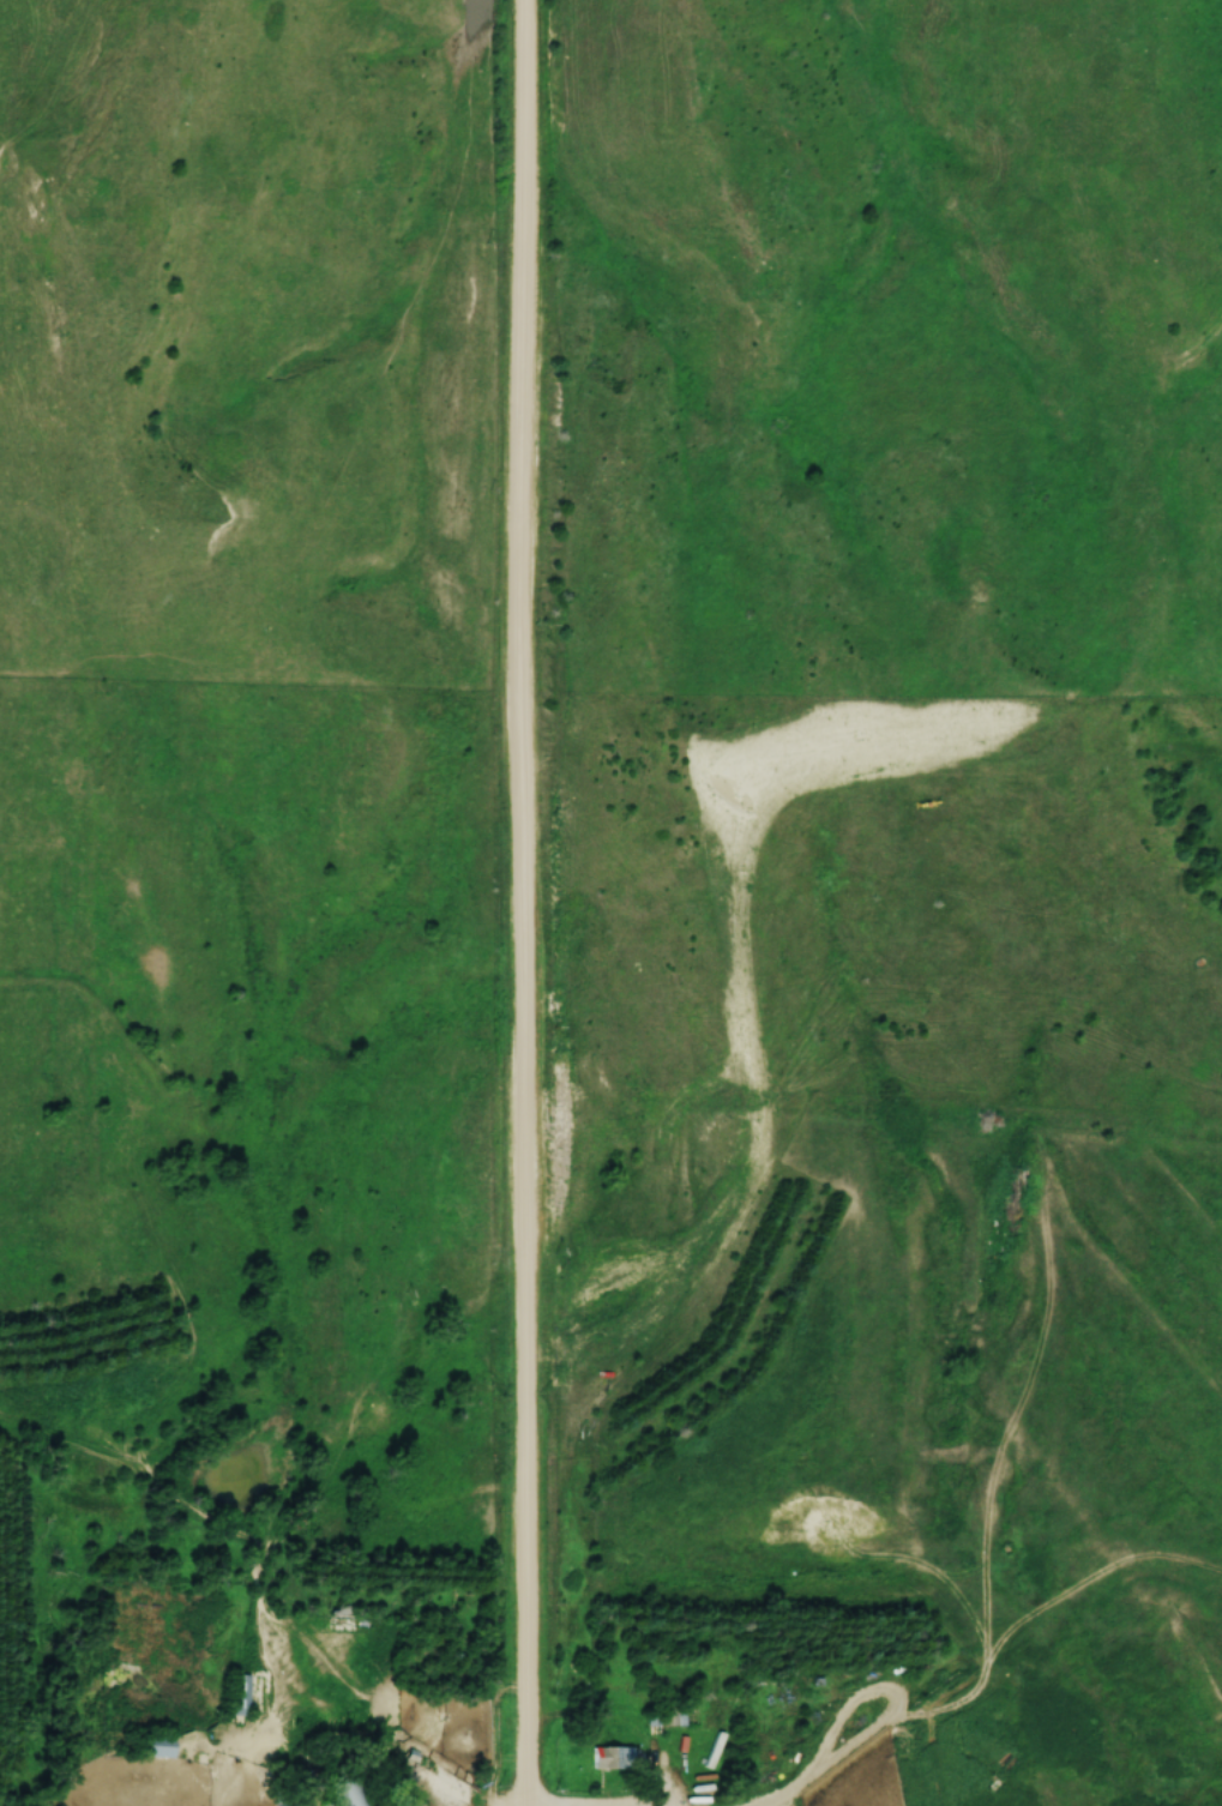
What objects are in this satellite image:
road: (520, 903)
building: (237, 1696)
building: (667, 1717)
building: (158, 1747)
building: (609, 1759)
building: (344, 1793)

